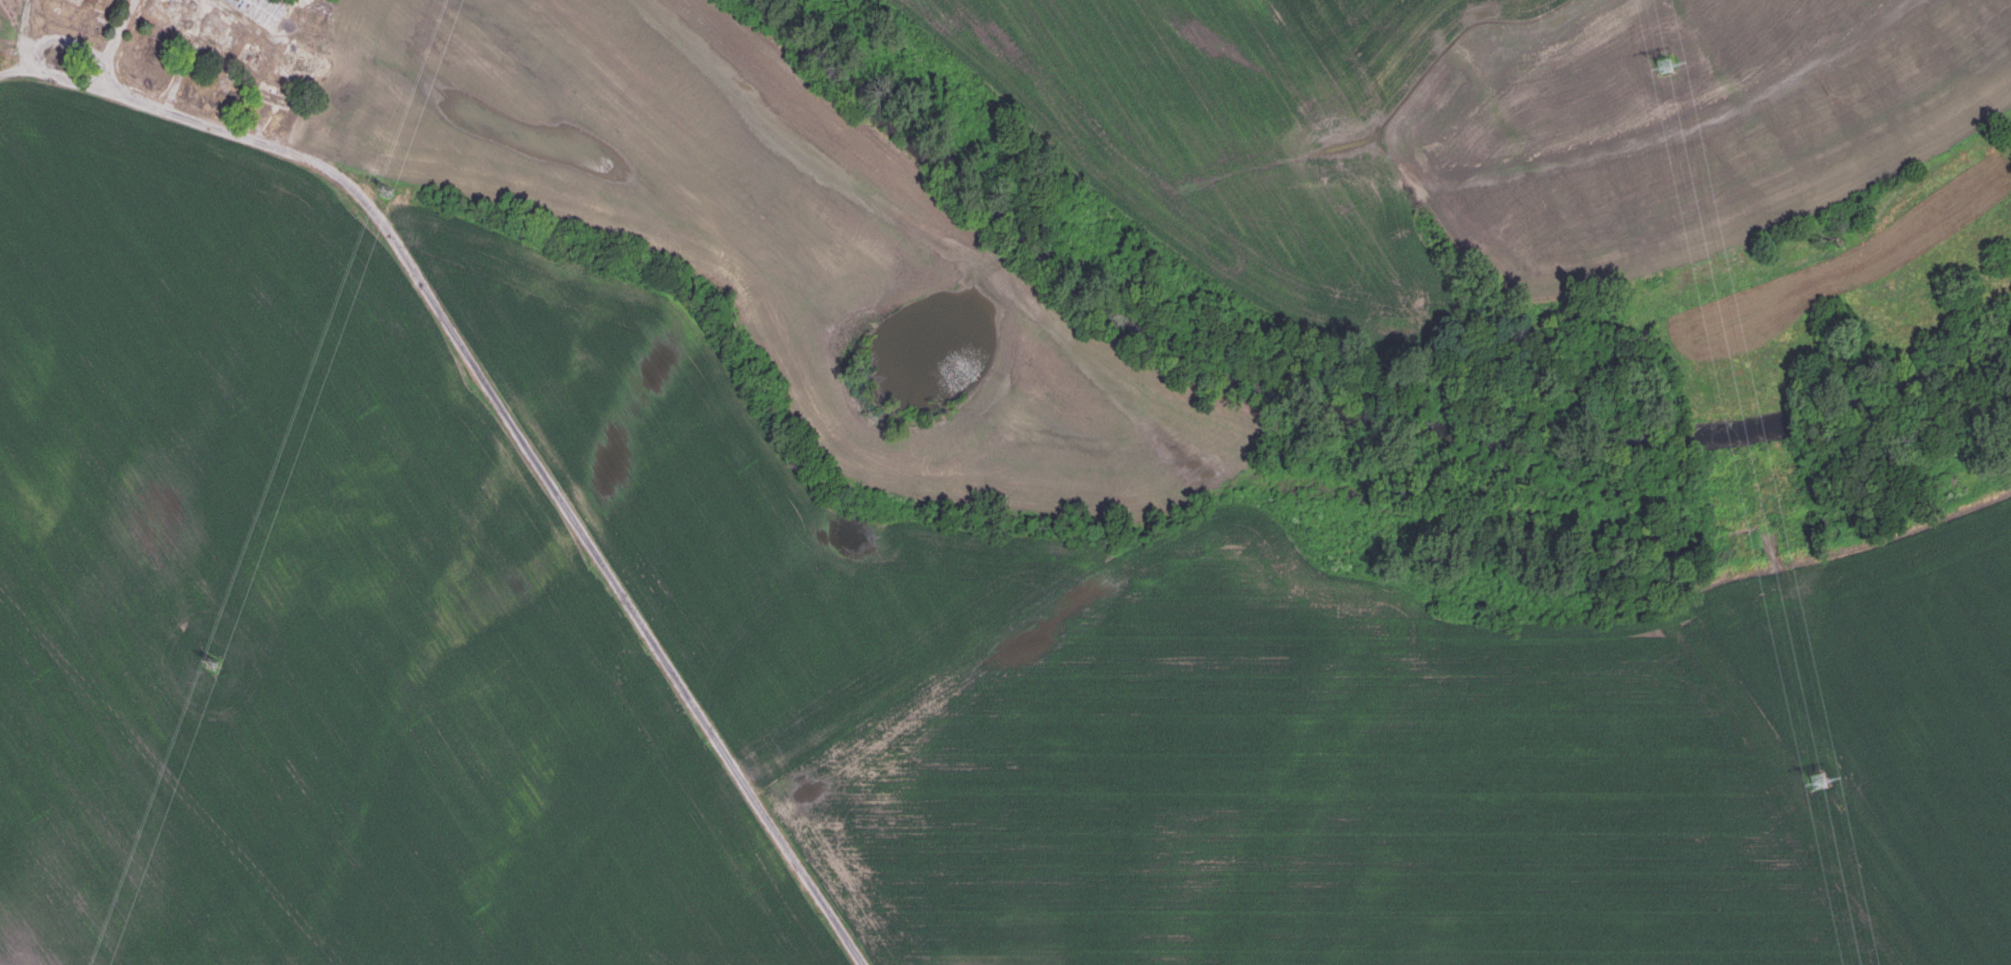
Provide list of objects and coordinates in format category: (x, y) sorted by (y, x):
building: (261, 9)
road: (21, 35)
road: (120, 45)
road: (184, 57)
power tower: (1660, 63)
crop: (1461, 125)
power tower: (382, 189)
crop: (784, 227)
road: (510, 418)
crop: (310, 611)
power tower: (214, 664)
crop: (1271, 706)
power tower: (1814, 782)

